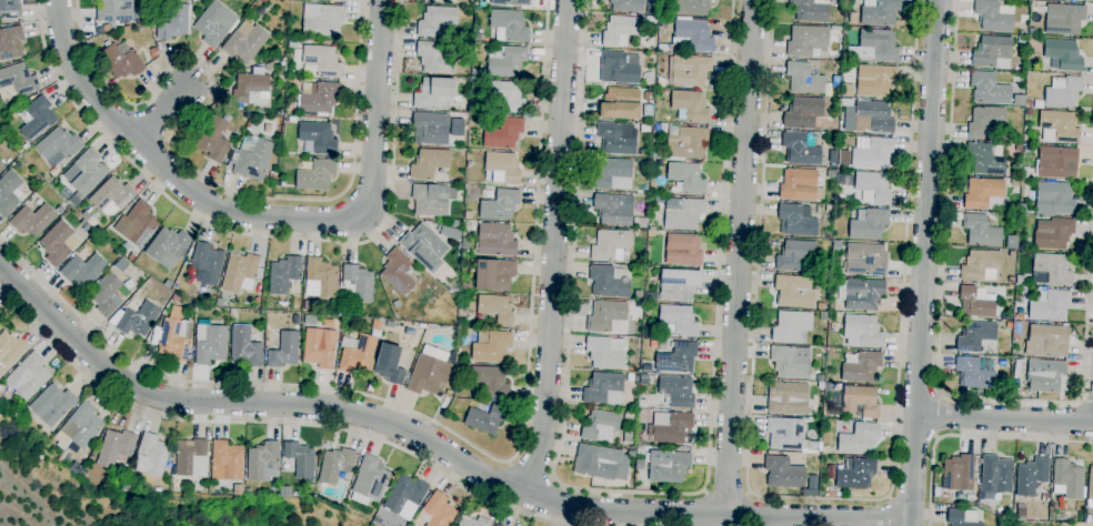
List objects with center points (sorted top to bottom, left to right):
building: (339, 0)
building: (713, 0)
building: (1077, 0)
building: (263, 1)
building: (442, 1)
building: (665, 1)
building: (511, 2)
building: (477, 4)
building: (626, 6)
building: (692, 7)
building: (10, 9)
building: (652, 9)
building: (114, 10)
building: (810, 10)
building: (880, 13)
building: (835, 16)
building: (993, 16)
building: (853, 18)
building: (1023, 19)
building: (1064, 19)
building: (321, 20)
building: (435, 21)
building: (174, 22)
building: (214, 23)
building: (510, 24)
building: (141, 26)
building: (833, 28)
building: (619, 30)
building: (1032, 32)
building: (692, 34)
building: (805, 40)
building: (10, 42)
building: (244, 42)
building: (1032, 42)
building: (292, 44)
building: (874, 47)
building: (992, 51)
building: (152, 52)
building: (1063, 55)
building: (434, 58)
building: (121, 60)
building: (322, 60)
building: (504, 61)
building: (619, 68)
building: (688, 70)
building: (477, 73)
building: (804, 77)
building: (649, 79)
building: (18, 80)
building: (874, 80)
building: (661, 82)
building: (835, 82)
building: (251, 88)
building: (989, 89)
building: (1063, 91)
building: (662, 92)
building: (433, 93)
building: (505, 95)
building: (648, 97)
building: (318, 98)
building: (831, 98)
building: (1017, 100)
building: (620, 104)
building: (690, 107)
road: (375, 108)
building: (829, 108)
building: (648, 111)
building: (804, 113)
road: (162, 114)
building: (872, 118)
building: (37, 119)
building: (291, 120)
building: (984, 121)
building: (259, 122)
building: (454, 127)
building: (1057, 127)
building: (431, 129)
building: (831, 129)
building: (503, 133)
building: (615, 138)
building: (317, 139)
building: (213, 140)
building: (683, 143)
building: (26, 146)
building: (58, 146)
building: (801, 146)
building: (1017, 146)
building: (18, 150)
building: (873, 154)
building: (832, 156)
building: (252, 159)
building: (985, 159)
building: (1056, 162)
building: (429, 163)
road: (191, 166)
building: (502, 168)
building: (1, 169)
road: (168, 170)
building: (54, 171)
building: (88, 172)
building: (612, 173)
building: (317, 175)
building: (271, 176)
building: (686, 179)
building: (848, 181)
building: (1014, 182)
building: (282, 183)
building: (53, 185)
building: (800, 185)
building: (872, 188)
building: (10, 193)
building: (112, 194)
building: (473, 194)
building: (984, 194)
building: (432, 199)
building: (1053, 199)
building: (74, 201)
building: (500, 204)
building: (614, 209)
building: (1023, 209)
building: (86, 215)
building: (683, 215)
building: (32, 220)
building: (795, 221)
building: (869, 223)
building: (137, 224)
building: (457, 224)
building: (981, 231)
building: (450, 233)
building: (650, 233)
building: (1052, 233)
road: (267, 236)
building: (495, 240)
building: (89, 241)
building: (1011, 242)
building: (57, 243)
building: (465, 243)
building: (167, 245)
building: (610, 245)
building: (423, 246)
road: (553, 246)
building: (124, 247)
building: (682, 250)
building: (794, 254)
building: (1012, 254)
building: (131, 256)
building: (865, 259)
road: (739, 260)
road: (923, 262)
building: (121, 265)
building: (980, 265)
building: (204, 266)
building: (1052, 267)
building: (83, 270)
building: (398, 271)
building: (240, 273)
building: (283, 274)
building: (492, 274)
building: (320, 279)
building: (1011, 280)
building: (1020, 281)
building: (358, 282)
building: (609, 282)
building: (679, 284)
building: (465, 287)
building: (794, 292)
building: (861, 293)
building: (638, 294)
building: (106, 295)
building: (212, 295)
building: (176, 299)
building: (976, 302)
building: (312, 304)
building: (397, 304)
building: (1050, 305)
building: (497, 308)
building: (831, 315)
building: (823, 316)
building: (1004, 316)
building: (606, 317)
building: (136, 320)
building: (310, 320)
building: (680, 320)
building: (328, 324)
building: (0, 325)
building: (377, 325)
building: (1009, 325)
building: (792, 326)
building: (1017, 328)
building: (862, 331)
building: (975, 335)
building: (174, 340)
building: (1046, 341)
building: (209, 343)
building: (244, 346)
building: (491, 346)
building: (319, 347)
building: (10, 351)
building: (284, 351)
building: (605, 352)
building: (1014, 352)
building: (357, 354)
building: (676, 357)
building: (791, 362)
building: (389, 365)
road: (936, 365)
building: (861, 366)
building: (1016, 368)
building: (430, 371)
building: (974, 372)
building: (28, 376)
building: (1046, 376)
building: (819, 378)
building: (490, 381)
building: (828, 387)
building: (604, 388)
building: (676, 391)
building: (449, 392)
building: (788, 398)
road: (1085, 398)
building: (860, 401)
building: (52, 402)
building: (641, 404)
road: (939, 415)
building: (485, 418)
road: (1004, 418)
road: (272, 423)
building: (603, 424)
building: (79, 428)
building: (671, 428)
building: (789, 435)
road: (971, 435)
building: (629, 437)
road: (459, 438)
building: (858, 438)
road: (434, 445)
building: (114, 447)
building: (640, 449)
building: (824, 451)
building: (151, 456)
building: (191, 458)
building: (300, 459)
building: (225, 461)
building: (262, 462)
building: (595, 462)
building: (335, 464)
building: (668, 466)
building: (74, 467)
road: (531, 469)
building: (783, 473)
building: (957, 473)
building: (855, 474)
building: (995, 476)
building: (1031, 476)
building: (1067, 479)
building: (369, 482)
building: (1090, 487)
building: (309, 488)
building: (238, 489)
building: (248, 492)
road: (633, 493)
building: (831, 494)
road: (725, 495)
building: (405, 496)
road: (821, 498)
building: (437, 510)
road: (888, 510)
building: (1021, 510)
building: (1006, 515)
building: (997, 516)
building: (962, 517)
building: (473, 522)
building: (493, 525)
building: (497, 525)

